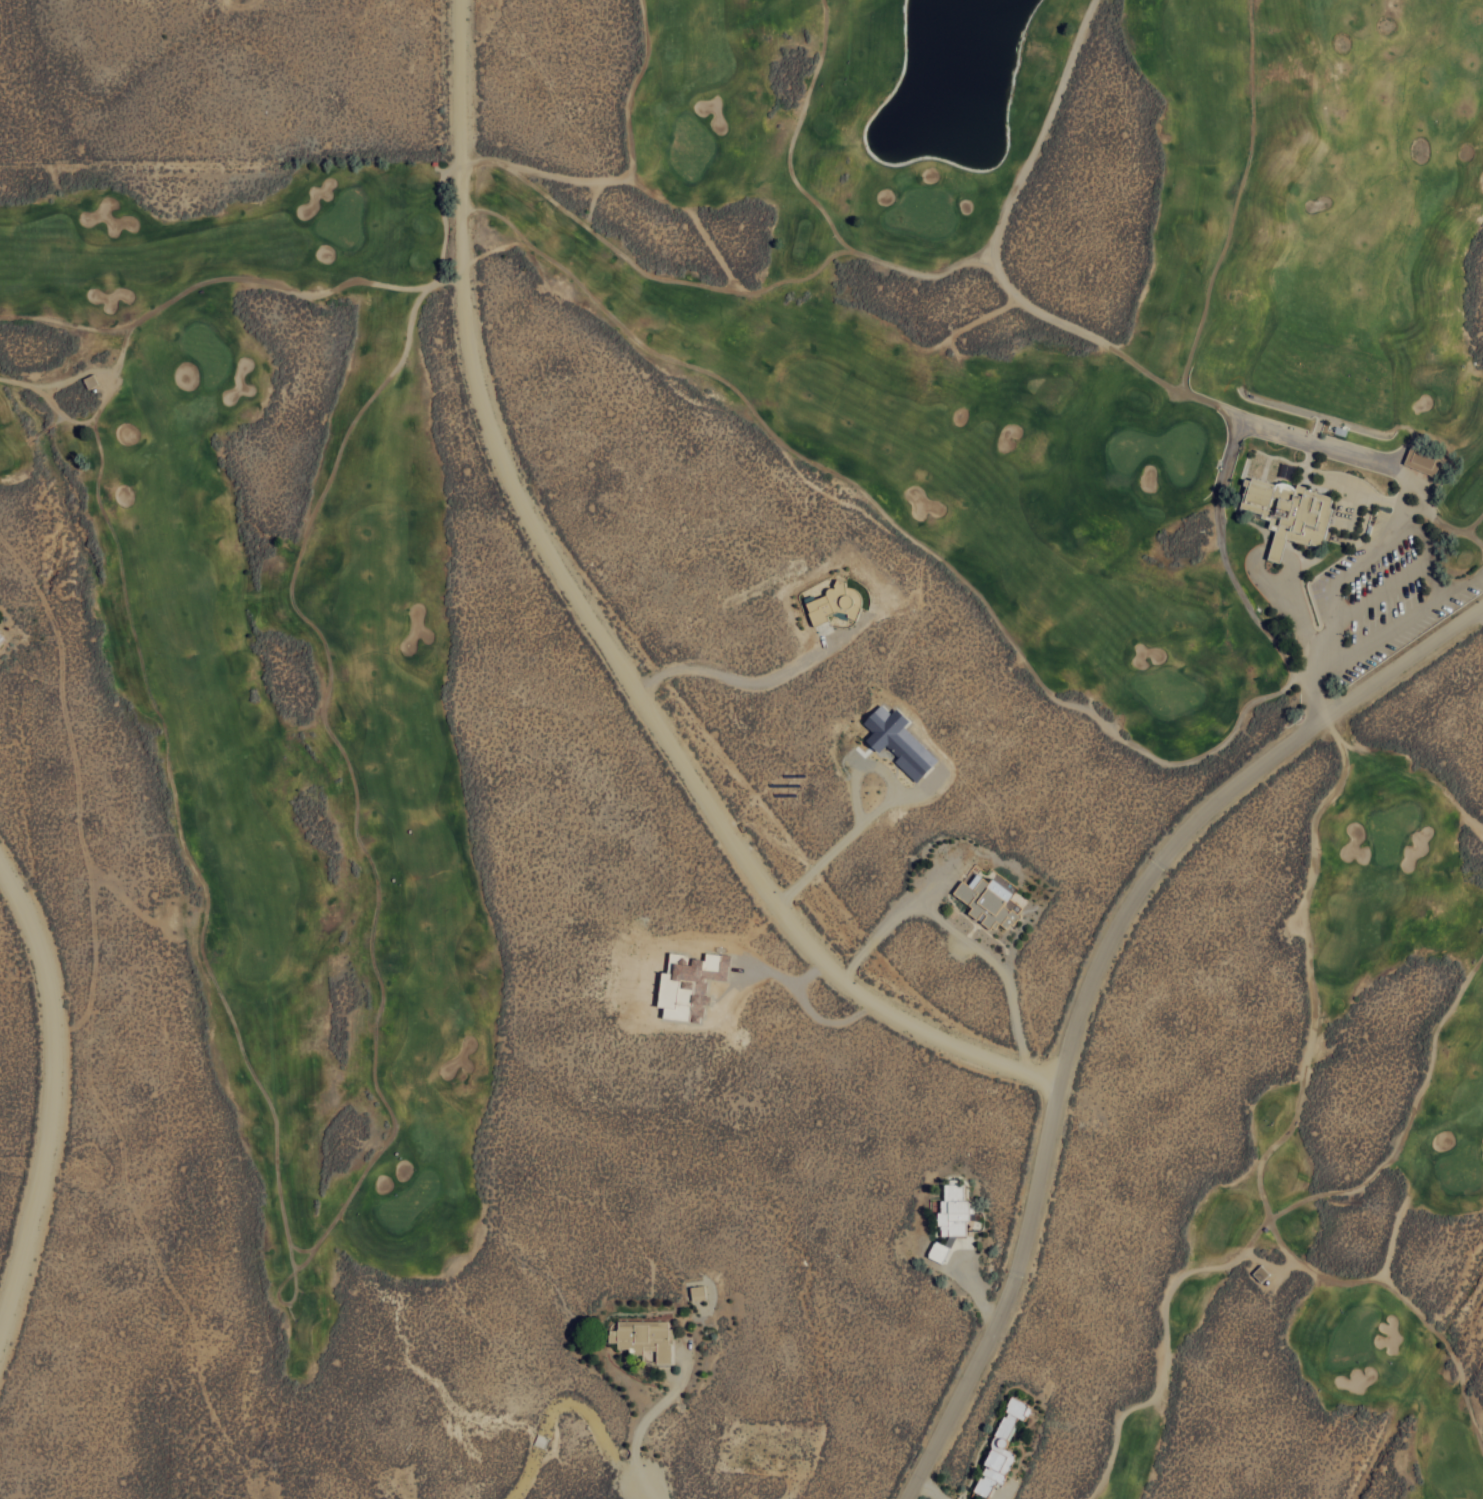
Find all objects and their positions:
building: (1421, 460)
building: (1345, 511)
building: (1287, 512)
parking lot: (1385, 601)
building: (833, 602)
road: (597, 635)
building: (1, 636)
building: (897, 740)
park: (315, 759)
building: (986, 899)
building: (687, 984)
road: (1096, 984)
road: (55, 1087)
building: (949, 1217)
building: (642, 1337)
road: (496, 1394)
building: (1000, 1444)

